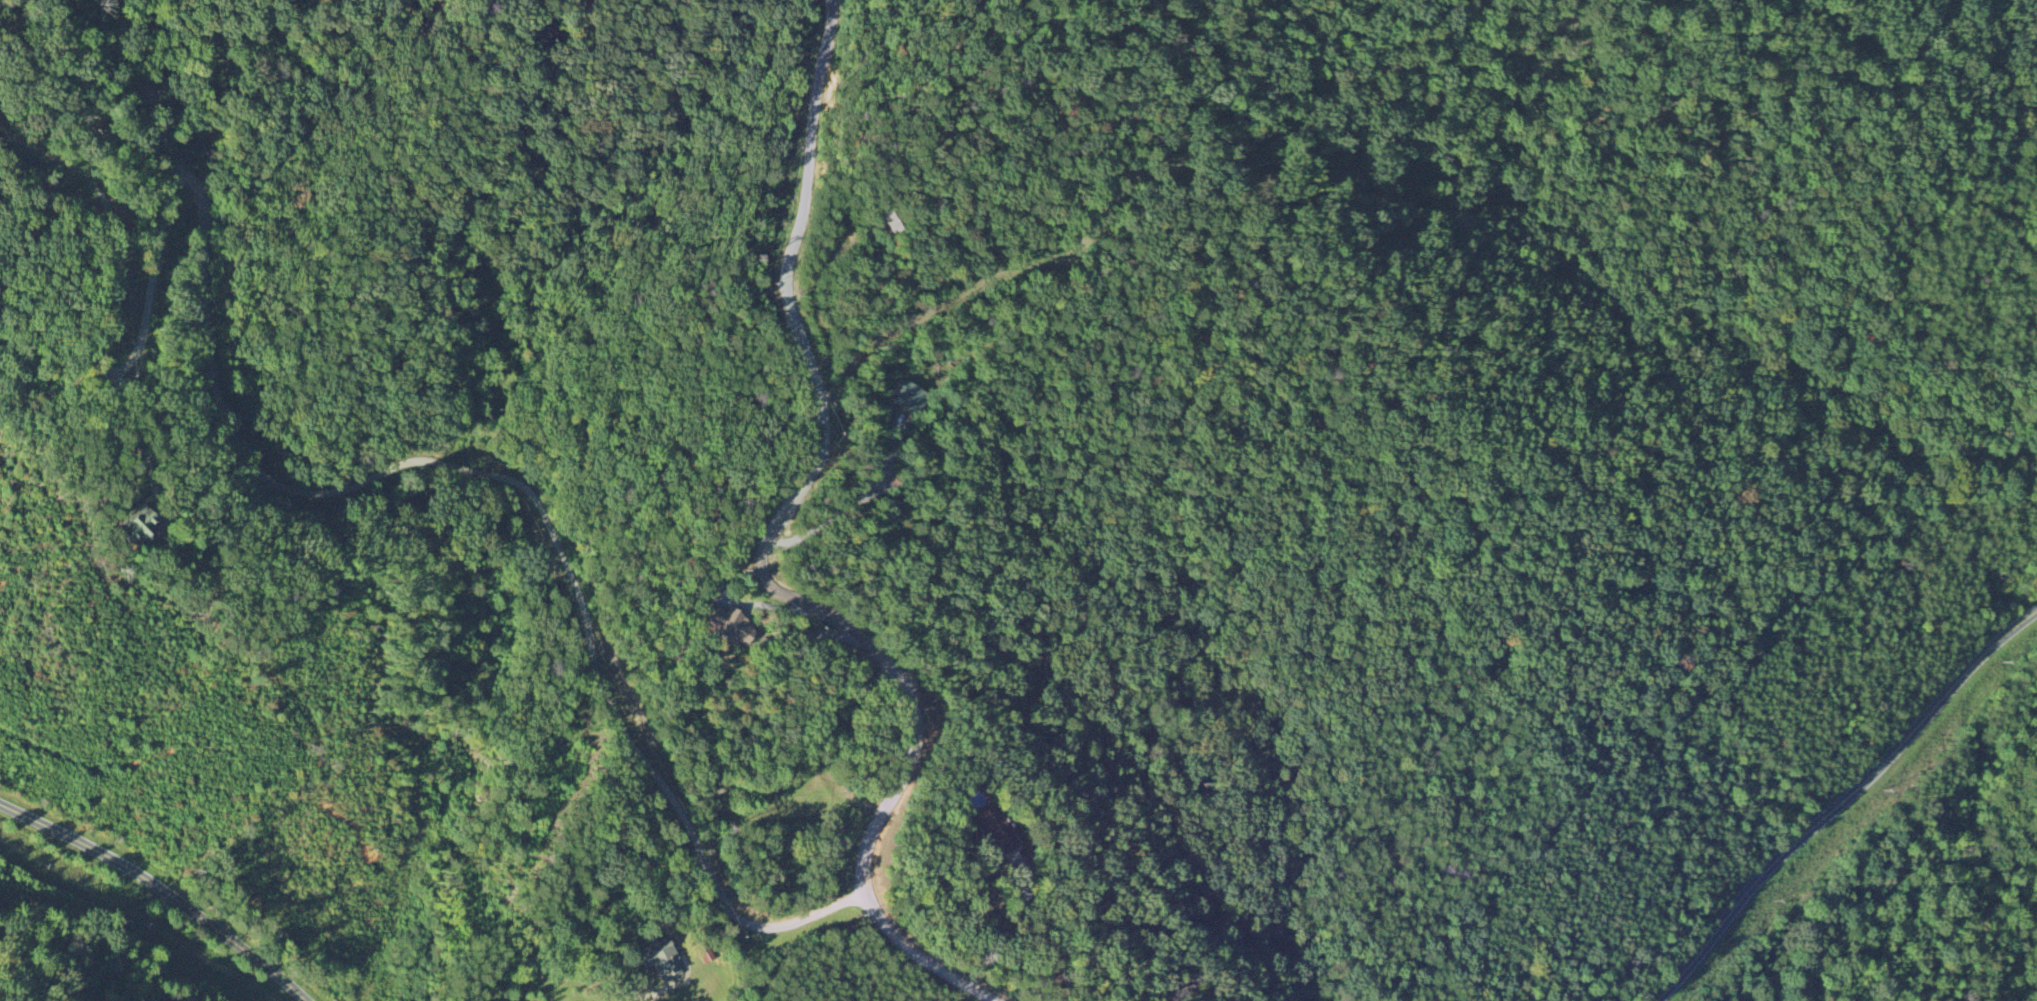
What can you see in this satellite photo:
road: (874, 330)
road: (106, 331)
building: (908, 398)
road: (133, 433)
road: (439, 463)
building: (141, 525)
road: (755, 566)
building: (730, 627)
road: (1840, 806)
building: (995, 829)
road: (159, 890)
building: (663, 961)
road: (638, 995)

